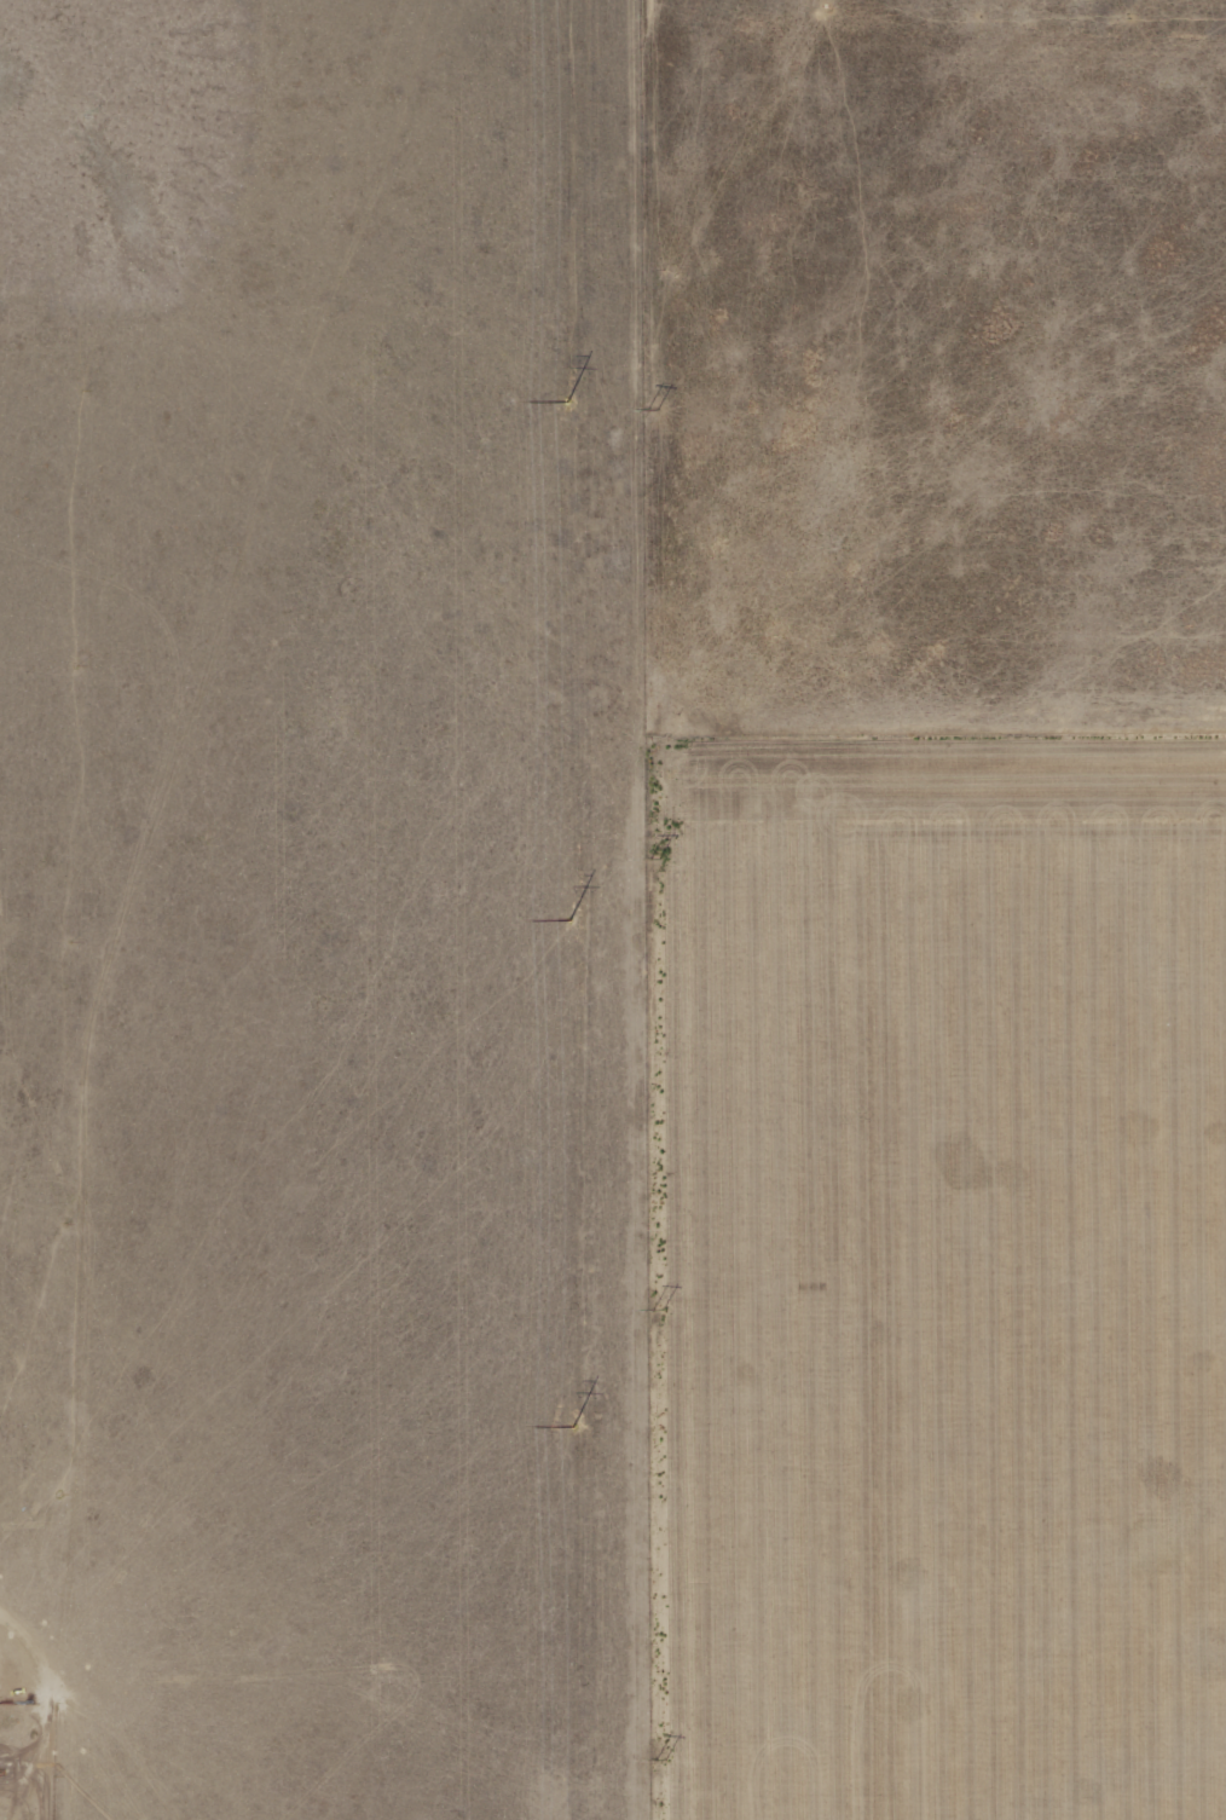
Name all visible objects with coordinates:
power tower: (563, 401)
power tower: (566, 920)
power tower: (569, 1426)

